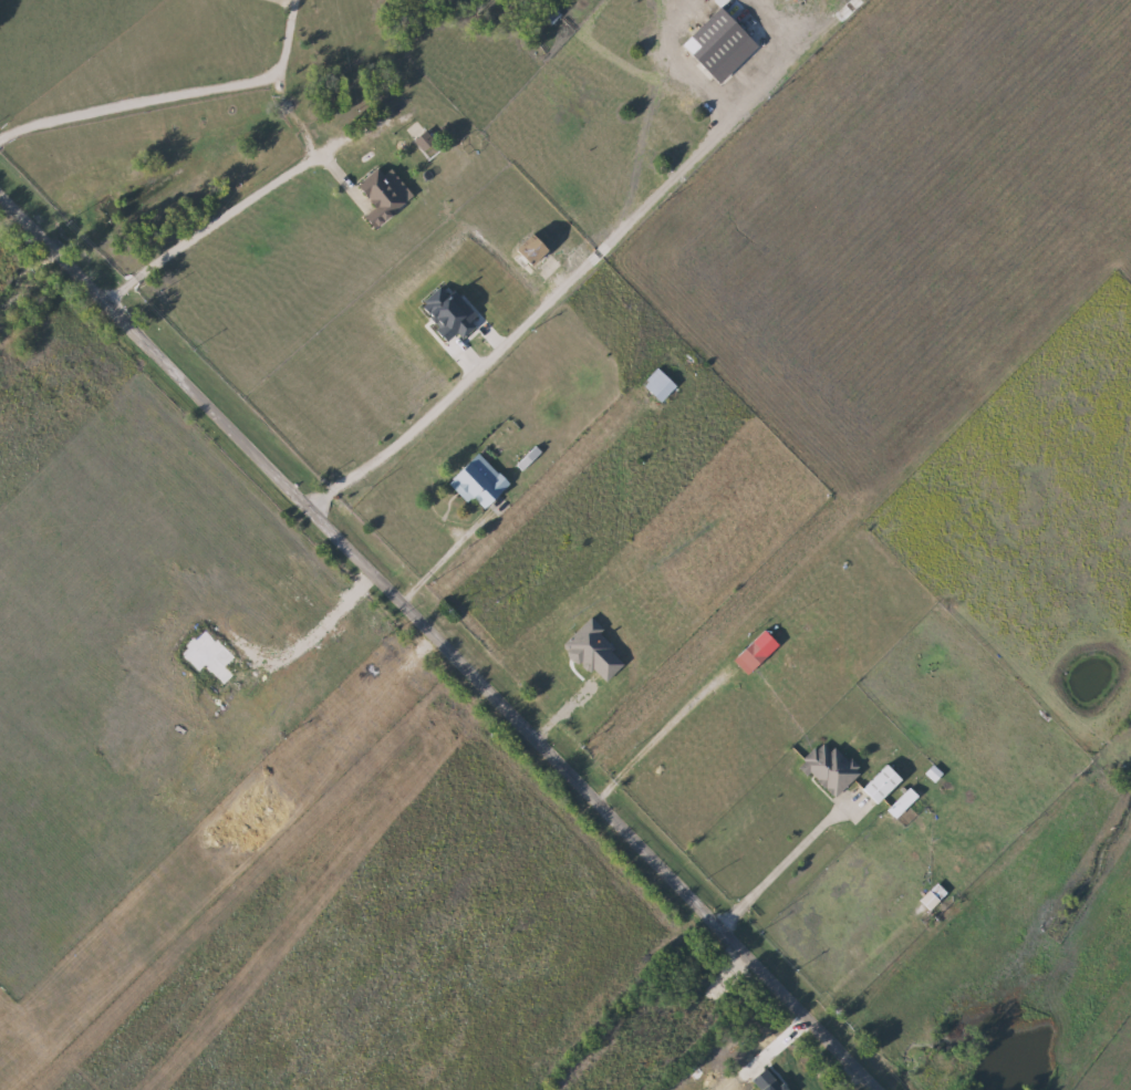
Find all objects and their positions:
building: (547, 17)
road: (81, 69)
road: (138, 102)
building: (428, 143)
road: (276, 180)
building: (387, 190)
road: (603, 247)
building: (540, 248)
building: (662, 385)
building: (483, 481)
road: (439, 561)
road: (434, 642)
building: (760, 650)
road: (664, 734)
building: (831, 768)
building: (885, 783)
building: (909, 798)
road: (790, 858)
building: (935, 896)
road: (867, 962)

